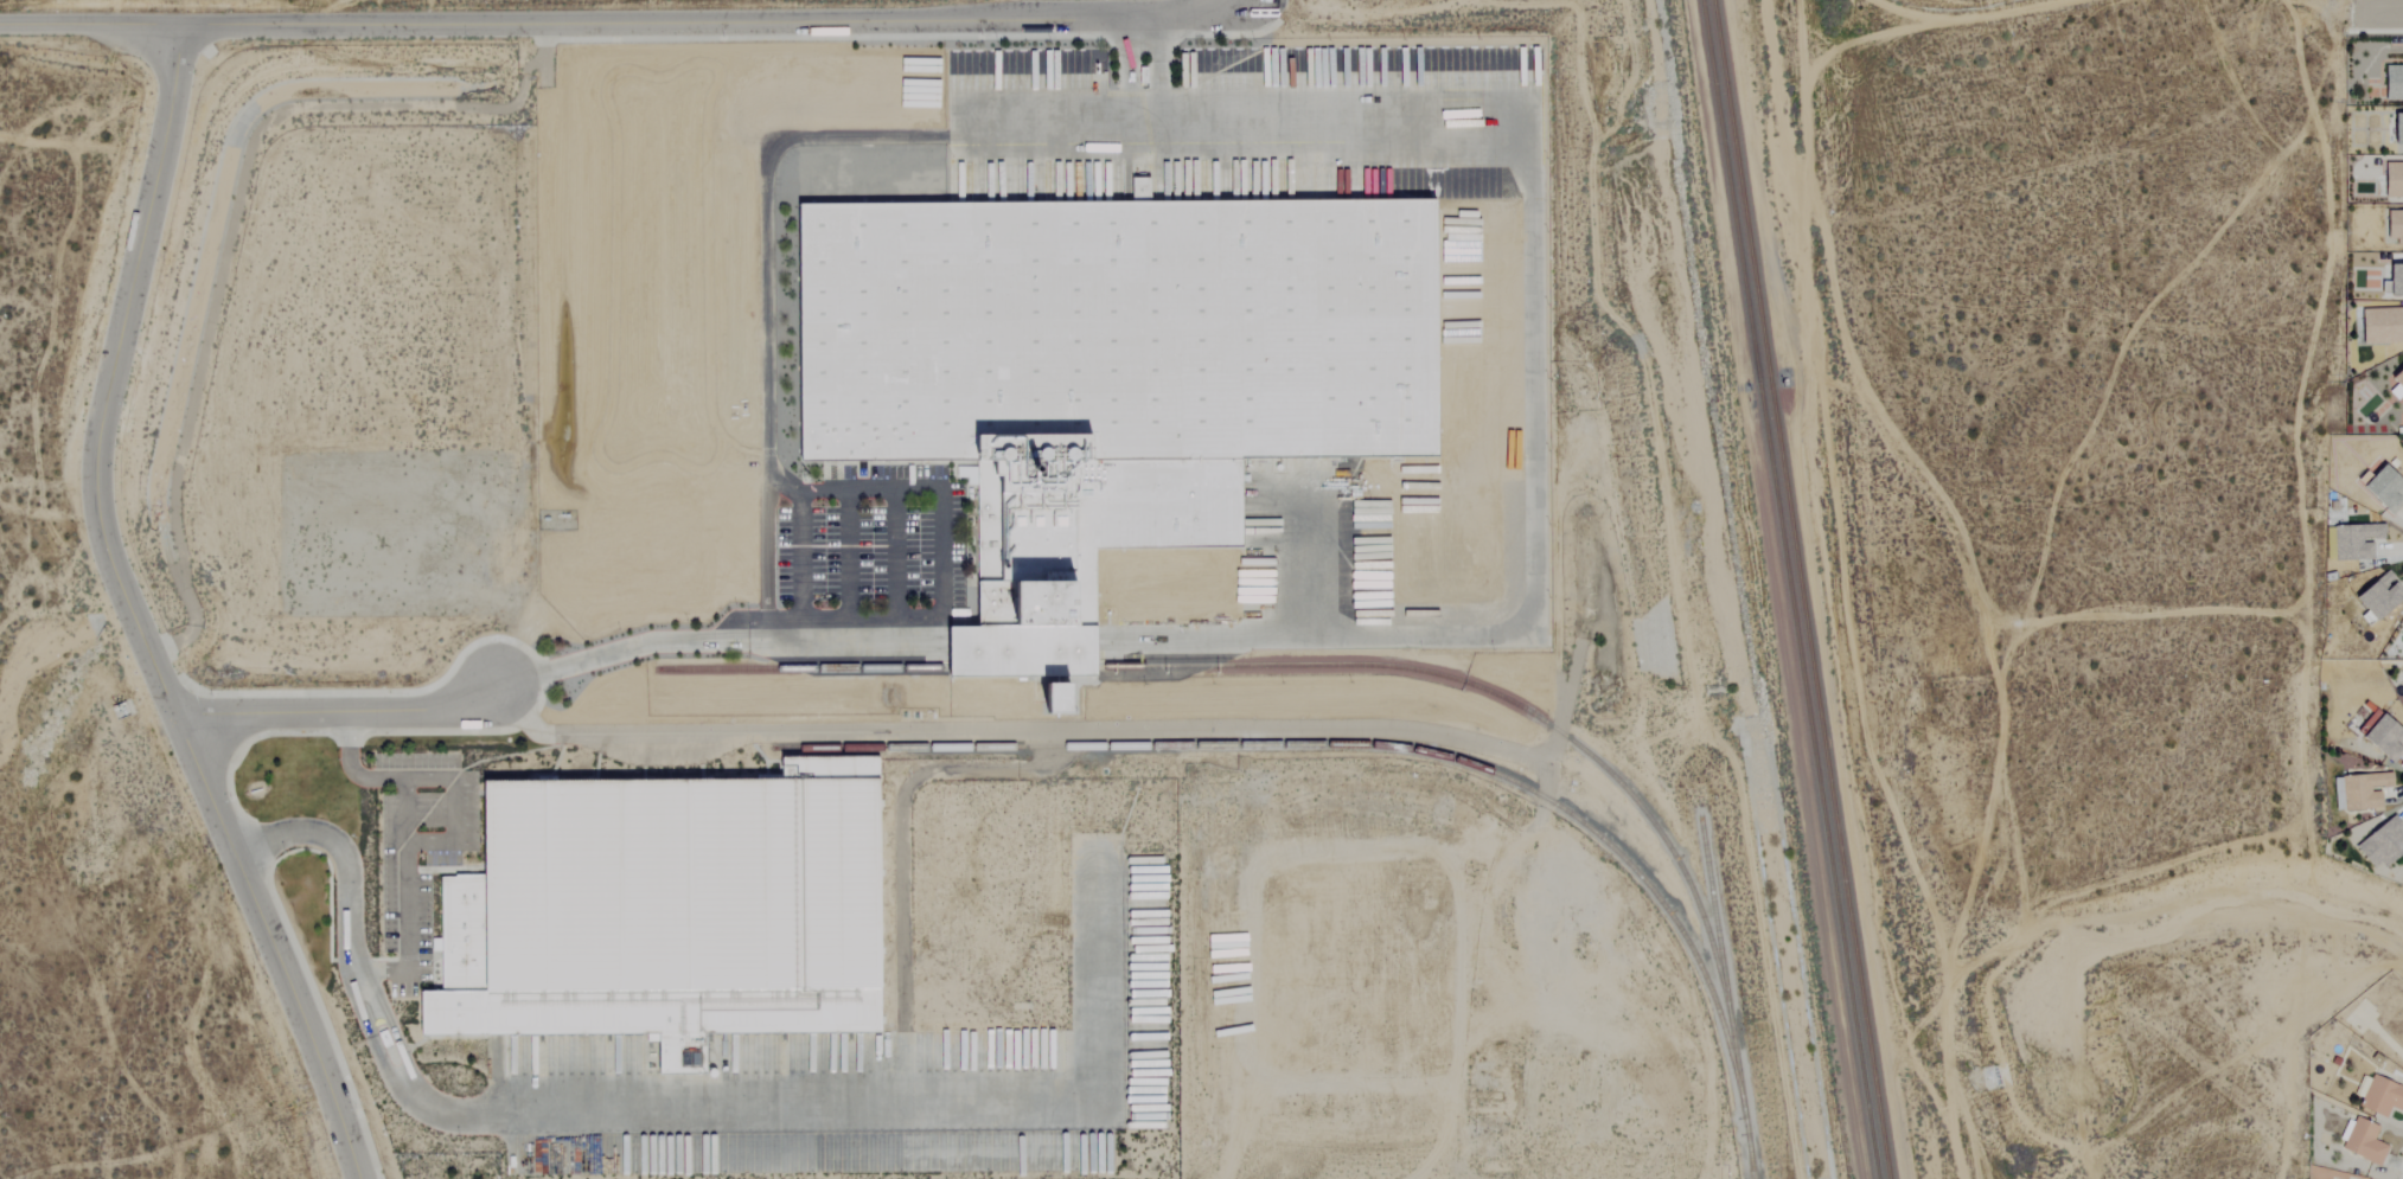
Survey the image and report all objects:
road: (2375, 12)
road: (619, 24)
building: (2391, 83)
road: (1143, 104)
road: (1149, 104)
building: (2395, 129)
building: (2391, 180)
road: (762, 213)
building: (2392, 228)
building: (2391, 282)
building: (2380, 326)
building: (1106, 373)
building: (2397, 379)
building: (2380, 488)
parking lot: (876, 537)
building: (2359, 540)
road: (1970, 575)
railway: (1788, 589)
railway: (1800, 589)
building: (2376, 597)
street lamp: (723, 605)
street lamp: (766, 605)
road: (132, 617)
street lamp: (688, 626)
street lamp: (622, 633)
road: (931, 641)
street lamp: (556, 648)
railway: (1292, 665)
building: (1057, 700)
road: (333, 712)
road: (1015, 731)
road: (1557, 733)
building: (2382, 739)
railway: (1357, 744)
building: (2362, 789)
building: (2380, 842)
road: (404, 846)
parking lot: (416, 857)
road: (343, 869)
building: (663, 911)
street lamp: (247, 955)
railway: (1725, 998)
road: (372, 1013)
building: (2401, 1043)
road: (371, 1055)
road: (402, 1059)
street lamp: (344, 1078)
building: (2380, 1097)
road: (547, 1119)
building: (2362, 1142)
railway: (1747, 1156)

